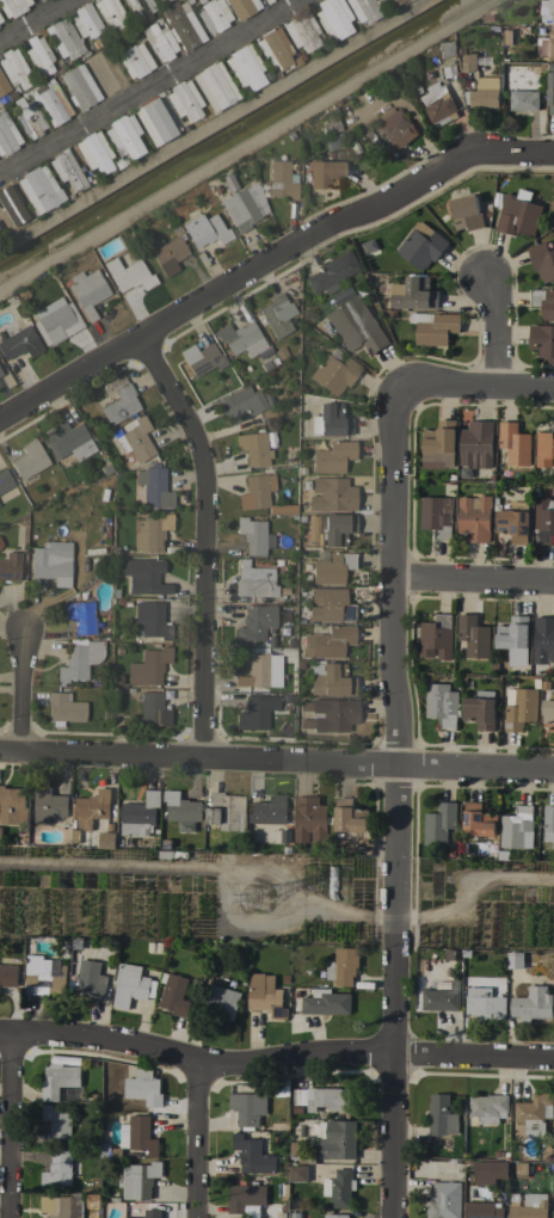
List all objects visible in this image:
building: (393, 1)
building: (12, 6)
building: (242, 7)
building: (140, 8)
building: (363, 10)
building: (547, 11)
building: (214, 14)
building: (110, 16)
building: (0, 18)
building: (332, 18)
building: (85, 20)
road: (36, 21)
building: (184, 26)
building: (301, 30)
building: (64, 38)
building: (160, 41)
building: (546, 45)
building: (272, 48)
building: (444, 49)
building: (38, 54)
building: (135, 60)
building: (467, 62)
building: (244, 66)
building: (13, 67)
building: (105, 69)
building: (445, 73)
building: (0, 80)
road: (148, 85)
building: (80, 86)
building: (214, 86)
building: (549, 87)
building: (0, 92)
building: (482, 93)
building: (183, 99)
building: (523, 100)
building: (51, 101)
building: (437, 105)
building: (29, 117)
building: (155, 119)
road: (209, 123)
building: (393, 128)
building: (7, 135)
building: (123, 135)
road: (246, 143)
building: (93, 150)
road: (513, 153)
building: (64, 168)
building: (325, 173)
building: (282, 179)
building: (37, 187)
building: (10, 203)
building: (244, 205)
building: (464, 210)
building: (517, 216)
building: (207, 228)
building: (421, 245)
building: (168, 254)
building: (542, 262)
building: (331, 271)
building: (128, 272)
road: (233, 277)
building: (86, 290)
building: (413, 294)
building: (543, 302)
building: (276, 314)
building: (56, 322)
building: (356, 325)
building: (433, 327)
road: (494, 330)
building: (242, 339)
building: (542, 340)
building: (19, 343)
building: (201, 357)
building: (333, 370)
building: (0, 373)
road: (475, 385)
building: (117, 400)
building: (239, 405)
building: (330, 419)
building: (67, 439)
building: (135, 439)
building: (476, 444)
building: (512, 444)
building: (438, 445)
building: (253, 448)
building: (544, 448)
building: (332, 456)
building: (29, 459)
building: (4, 479)
building: (153, 485)
building: (256, 490)
building: (331, 493)
building: (282, 509)
building: (435, 517)
building: (473, 518)
building: (542, 519)
building: (513, 522)
building: (330, 528)
building: (150, 531)
building: (252, 534)
road: (202, 539)
building: (51, 561)
building: (10, 566)
building: (331, 567)
building: (143, 574)
building: (254, 580)
road: (475, 580)
building: (328, 604)
building: (80, 615)
building: (150, 619)
building: (254, 622)
building: (473, 636)
building: (436, 638)
building: (513, 639)
building: (542, 640)
building: (327, 641)
building: (79, 658)
building: (148, 666)
building: (257, 668)
building: (330, 679)
road: (19, 693)
building: (287, 697)
building: (442, 705)
building: (63, 708)
building: (152, 708)
building: (519, 708)
building: (548, 708)
building: (480, 710)
building: (254, 712)
building: (328, 713)
building: (553, 731)
road: (276, 759)
road: (393, 801)
building: (48, 805)
building: (12, 806)
building: (92, 808)
building: (270, 810)
building: (181, 811)
building: (227, 811)
building: (140, 814)
building: (309, 818)
building: (478, 820)
building: (350, 822)
building: (438, 824)
building: (548, 824)
building: (515, 826)
building: (0, 835)
building: (106, 839)
building: (160, 855)
road: (190, 868)
road: (470, 892)
power tower: (257, 900)
road: (381, 921)
road: (245, 924)
building: (74, 943)
building: (513, 960)
building: (344, 966)
building: (8, 976)
building: (44, 976)
building: (91, 980)
building: (131, 985)
building: (174, 995)
building: (266, 996)
building: (442, 996)
building: (222, 1001)
building: (326, 1003)
building: (485, 1004)
building: (533, 1004)
road: (275, 1057)
building: (60, 1081)
building: (144, 1088)
building: (322, 1097)
building: (248, 1107)
building: (488, 1108)
building: (535, 1114)
building: (442, 1116)
building: (59, 1122)
road: (7, 1127)
building: (275, 1127)
building: (142, 1136)
building: (338, 1139)
road: (196, 1142)
building: (295, 1148)
building: (110, 1151)
building: (253, 1156)
building: (59, 1169)
building: (488, 1171)
building: (297, 1173)
building: (138, 1180)
building: (339, 1188)
building: (246, 1198)
building: (444, 1200)
building: (62, 1206)
building: (528, 1206)
building: (482, 1210)
building: (153, 1213)
building: (553, 1214)
building: (336, 1216)

